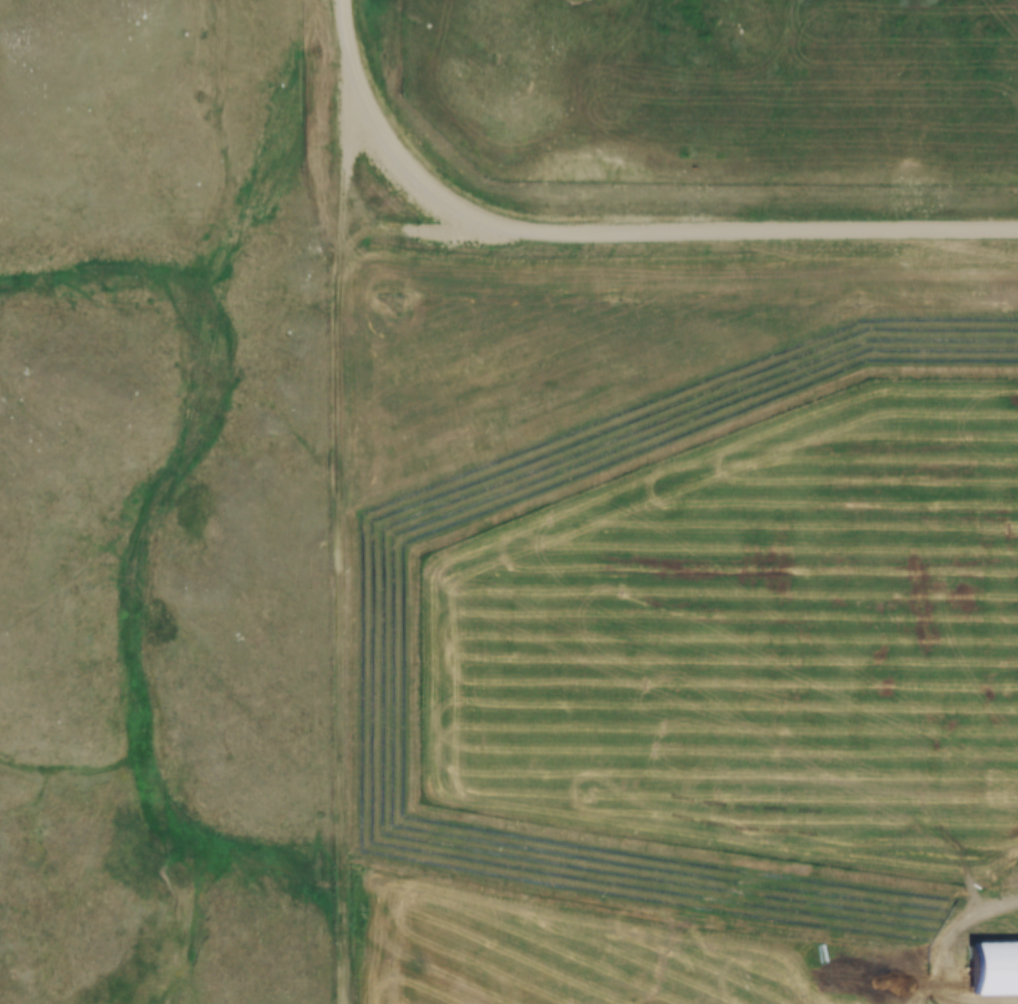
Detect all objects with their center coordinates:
road: (345, 32)
road: (645, 228)
road: (349, 534)

